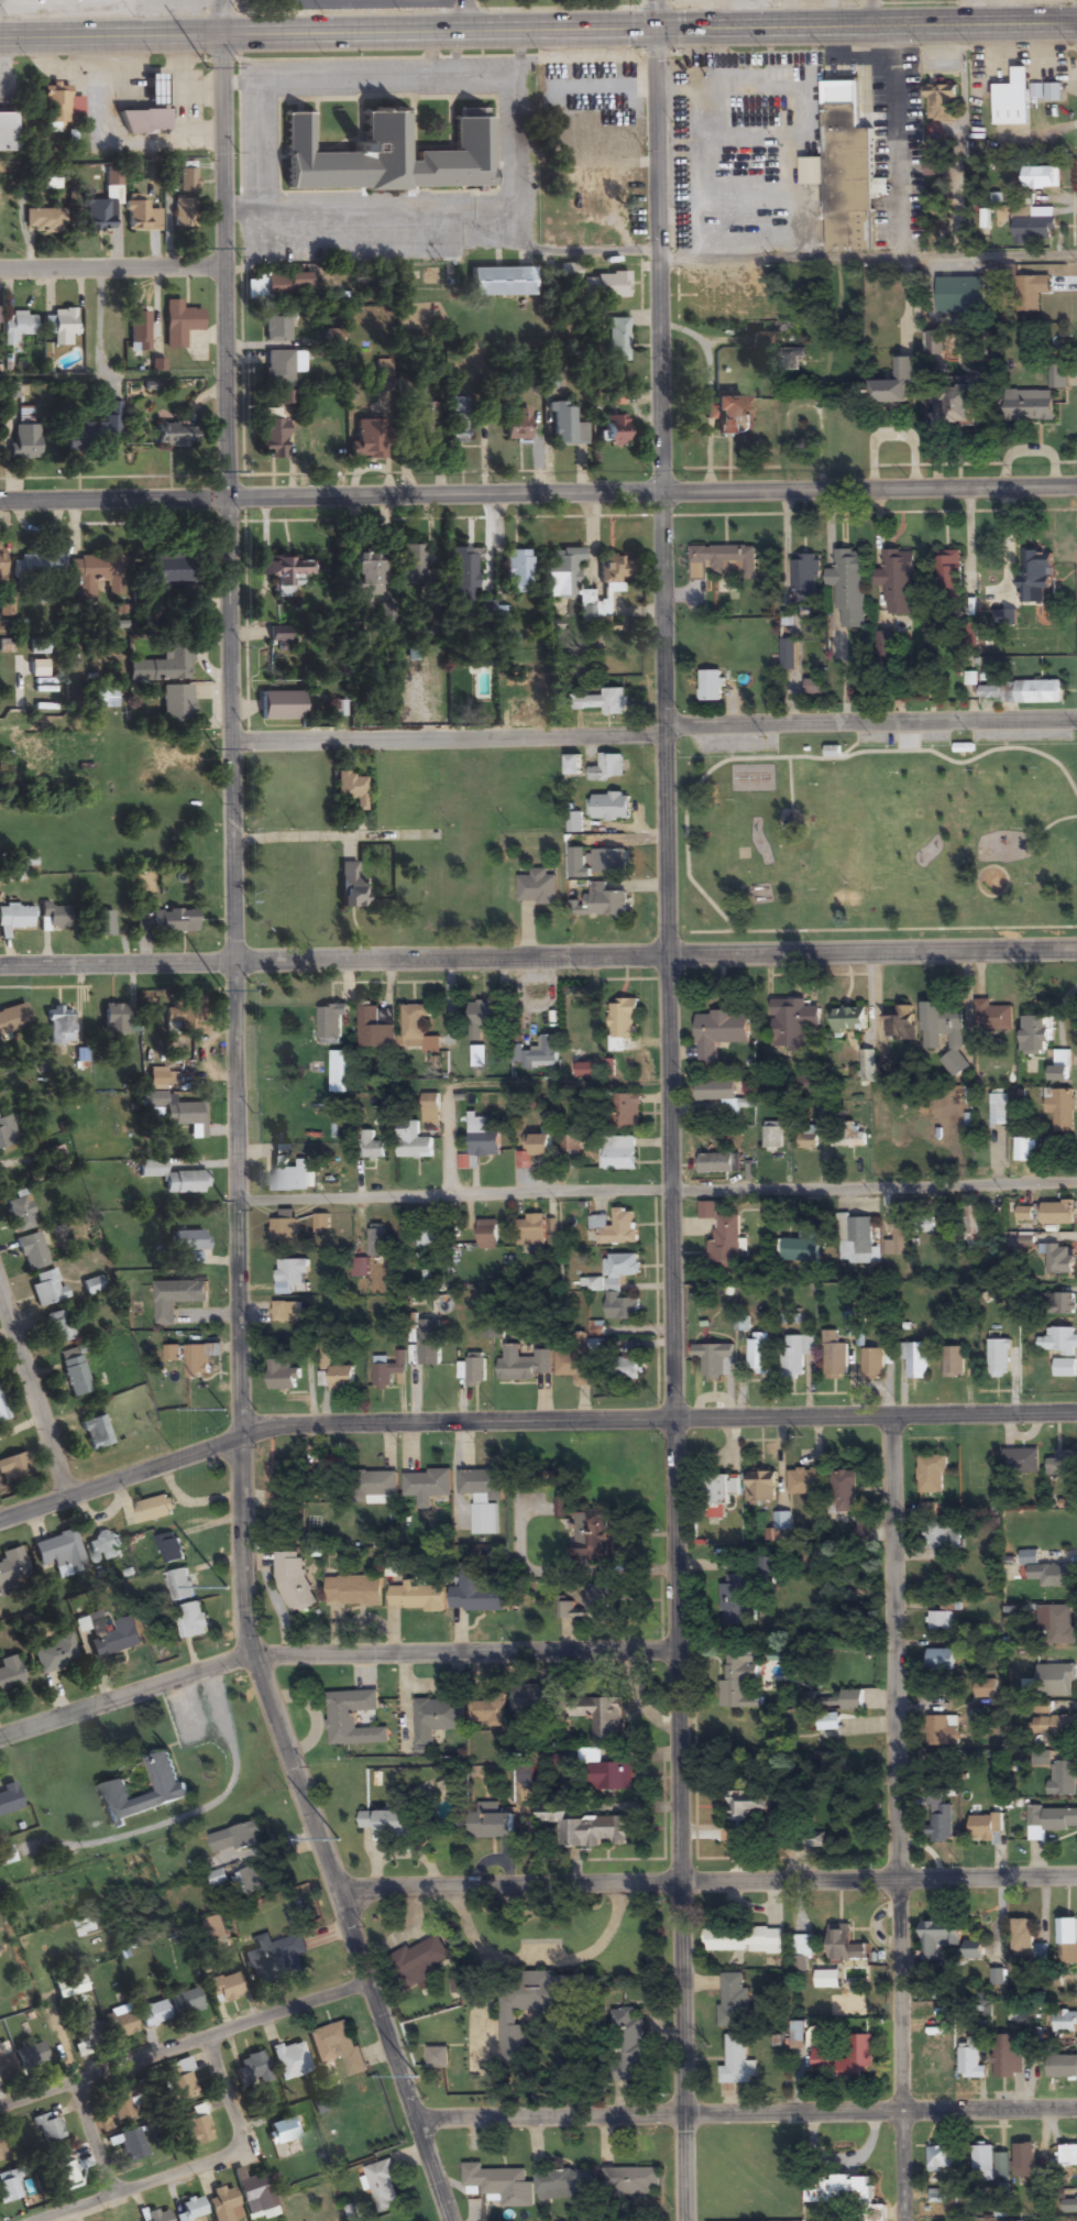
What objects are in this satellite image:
road: (465, 14)
traffic signals: (655, 25)
road: (538, 28)
road: (0, 64)
power tower: (205, 67)
road: (237, 80)
building: (153, 91)
building: (1053, 92)
building: (1011, 100)
building: (942, 101)
building: (59, 106)
building: (142, 123)
building: (7, 134)
road: (111, 138)
road: (518, 143)
road: (256, 146)
building: (395, 150)
building: (847, 161)
building: (186, 178)
building: (1042, 178)
building: (50, 183)
road: (239, 212)
building: (183, 215)
building: (98, 217)
building: (140, 219)
building: (43, 220)
building: (1033, 226)
power tower: (207, 248)
road: (867, 255)
road: (111, 266)
building: (499, 283)
building: (604, 286)
building: (273, 288)
building: (1031, 293)
building: (963, 298)
building: (178, 326)
building: (18, 328)
building: (63, 328)
building: (276, 328)
building: (136, 336)
building: (616, 342)
building: (935, 344)
building: (794, 354)
building: (283, 369)
building: (382, 372)
building: (1057, 376)
building: (894, 384)
building: (1029, 405)
building: (960, 407)
building: (725, 416)
building: (457, 422)
building: (418, 424)
building: (515, 426)
building: (563, 426)
building: (96, 433)
building: (612, 433)
building: (174, 437)
building: (272, 439)
building: (366, 439)
building: (23, 444)
power tower: (210, 471)
road: (538, 494)
building: (723, 562)
building: (410, 565)
building: (0, 566)
building: (37, 567)
building: (517, 573)
building: (560, 575)
building: (92, 576)
building: (163, 576)
building: (805, 576)
building: (283, 577)
building: (1031, 577)
building: (460, 578)
building: (363, 579)
building: (898, 582)
building: (948, 584)
building: (849, 588)
building: (602, 592)
road: (28, 622)
building: (277, 636)
building: (884, 645)
building: (163, 667)
building: (516, 678)
building: (711, 687)
building: (1023, 692)
building: (102, 700)
building: (602, 703)
building: (175, 705)
building: (277, 707)
building: (337, 710)
building: (521, 711)
road: (653, 729)
power tower: (216, 748)
building: (175, 762)
building: (572, 763)
building: (607, 768)
building: (350, 790)
building: (609, 807)
building: (574, 822)
park: (875, 834)
building: (607, 861)
building: (349, 887)
building: (537, 887)
building: (609, 905)
building: (15, 918)
building: (51, 918)
building: (171, 922)
building: (100, 924)
road: (538, 955)
power tower: (220, 989)
building: (484, 1015)
building: (993, 1015)
building: (849, 1019)
building: (12, 1020)
building: (113, 1020)
building: (899, 1022)
building: (331, 1024)
building: (790, 1024)
building: (623, 1025)
building: (59, 1026)
building: (943, 1026)
building: (374, 1029)
building: (418, 1029)
building: (719, 1031)
building: (1036, 1035)
building: (536, 1053)
building: (867, 1066)
building: (1060, 1066)
building: (584, 1071)
building: (341, 1072)
building: (160, 1079)
building: (809, 1083)
building: (719, 1097)
building: (998, 1108)
building: (1060, 1108)
building: (430, 1109)
road: (671, 1109)
building: (625, 1110)
building: (175, 1114)
road: (237, 1127)
building: (6, 1133)
building: (772, 1136)
building: (807, 1137)
building: (849, 1137)
building: (482, 1138)
building: (413, 1141)
building: (540, 1146)
building: (570, 1146)
building: (372, 1147)
building: (998, 1149)
building: (1025, 1149)
building: (619, 1152)
building: (54, 1157)
building: (717, 1163)
building: (289, 1174)
building: (173, 1179)
road: (657, 1189)
power tower: (222, 1201)
building: (1058, 1213)
building: (1024, 1214)
building: (18, 1215)
building: (974, 1222)
building: (615, 1227)
building: (531, 1230)
building: (284, 1233)
building: (487, 1235)
building: (427, 1237)
building: (377, 1240)
building: (723, 1240)
building: (857, 1240)
building: (187, 1241)
building: (802, 1246)
building: (30, 1252)
building: (1059, 1259)
building: (361, 1266)
building: (616, 1271)
building: (292, 1277)
building: (91, 1287)
building: (46, 1289)
building: (176, 1299)
building: (1056, 1303)
building: (622, 1308)
building: (58, 1327)
building: (1060, 1341)
building: (429, 1343)
building: (173, 1354)
building: (758, 1354)
building: (795, 1355)
building: (834, 1356)
building: (998, 1358)
building: (200, 1359)
building: (715, 1360)
building: (915, 1360)
building: (953, 1361)
building: (872, 1364)
building: (524, 1365)
building: (573, 1366)
building: (626, 1368)
building: (1065, 1368)
building: (388, 1370)
building: (475, 1371)
building: (74, 1374)
building: (283, 1376)
road: (33, 1393)
power tower: (226, 1408)
road: (681, 1411)
building: (2, 1412)
building: (96, 1434)
building: (1021, 1460)
building: (1063, 1465)
building: (13, 1469)
road: (142, 1469)
building: (932, 1474)
building: (805, 1481)
building: (481, 1483)
building: (282, 1484)
building: (380, 1484)
building: (428, 1484)
building: (761, 1486)
building: (844, 1491)
building: (718, 1495)
building: (153, 1510)
building: (783, 1521)
building: (587, 1531)
building: (943, 1535)
building: (103, 1549)
building: (169, 1549)
building: (59, 1555)
building: (11, 1566)
building: (1044, 1573)
building: (294, 1582)
building: (179, 1586)
power tower: (227, 1586)
building: (353, 1591)
building: (475, 1591)
building: (417, 1597)
building: (733, 1599)
building: (590, 1605)
building: (938, 1620)
building: (193, 1622)
building: (1057, 1623)
building: (108, 1635)
road: (332, 1651)
building: (54, 1655)
building: (941, 1661)
building: (9, 1674)
building: (739, 1681)
building: (1055, 1681)
building: (986, 1688)
building: (530, 1698)
building: (851, 1700)
building: (487, 1711)
building: (598, 1714)
building: (437, 1718)
building: (352, 1719)
building: (828, 1721)
building: (1055, 1726)
building: (943, 1731)
building: (746, 1733)
building: (1058, 1774)
building: (607, 1776)
building: (169, 1790)
building: (9, 1799)
building: (746, 1806)
road: (894, 1814)
building: (1052, 1819)
building: (386, 1823)
building: (490, 1823)
building: (941, 1825)
building: (584, 1828)
building: (985, 1828)
building: (240, 1837)
power tower: (339, 1839)
building: (814, 1839)
building: (254, 1880)
road: (710, 1886)
building: (297, 1922)
building: (89, 1928)
building: (937, 1938)
building: (1022, 1938)
building: (741, 1939)
building: (844, 1945)
building: (1067, 1945)
building: (802, 1947)
building: (972, 1949)
building: (275, 1959)
building: (420, 1962)
building: (997, 1978)
building: (69, 1988)
building: (223, 1989)
building: (734, 2001)
building: (187, 2003)
building: (528, 2007)
building: (152, 2015)
building: (1065, 2022)
building: (122, 2025)
building: (84, 2026)
building: (627, 2043)
road: (185, 2045)
building: (338, 2047)
building: (34, 2055)
building: (438, 2057)
building: (1007, 2058)
building: (936, 2059)
building: (970, 2059)
building: (289, 2060)
building: (847, 2060)
building: (736, 2065)
building: (1, 2067)
building: (1062, 2067)
building: (251, 2070)
power tower: (416, 2074)
building: (177, 2082)
road: (235, 2093)
building: (120, 2104)
road: (745, 2113)
building: (48, 2130)
building: (195, 2131)
building: (282, 2132)
road: (102, 2138)
building: (131, 2146)
building: (2, 2154)
building: (1068, 2156)
building: (939, 2159)
building: (1024, 2160)
building: (990, 2164)
building: (63, 2171)
building: (494, 2179)
building: (629, 2181)
building: (563, 2186)
road: (143, 2187)
building: (384, 2187)
building: (8, 2188)
building: (839, 2191)
building: (222, 2204)
building: (1069, 2206)
building: (190, 2210)
building: (154, 2215)

